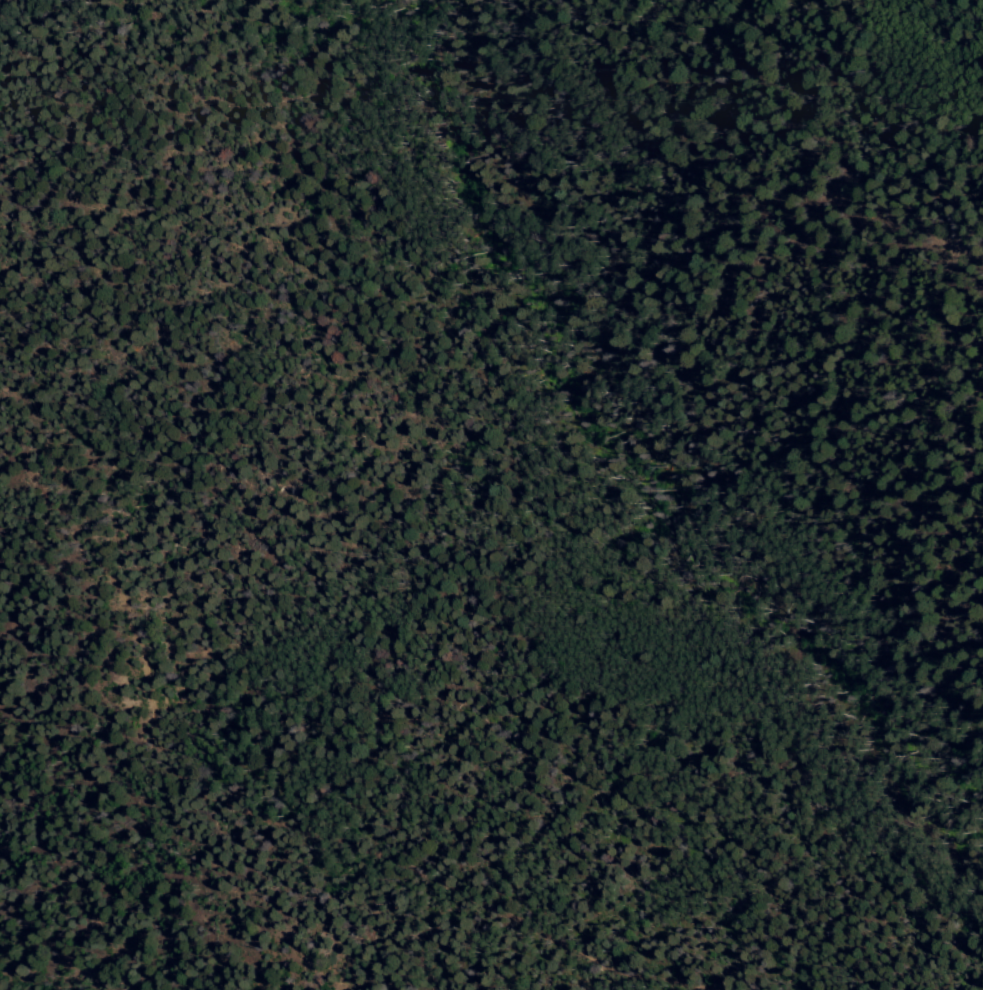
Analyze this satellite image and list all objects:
road: (713, 468)
road: (273, 818)

